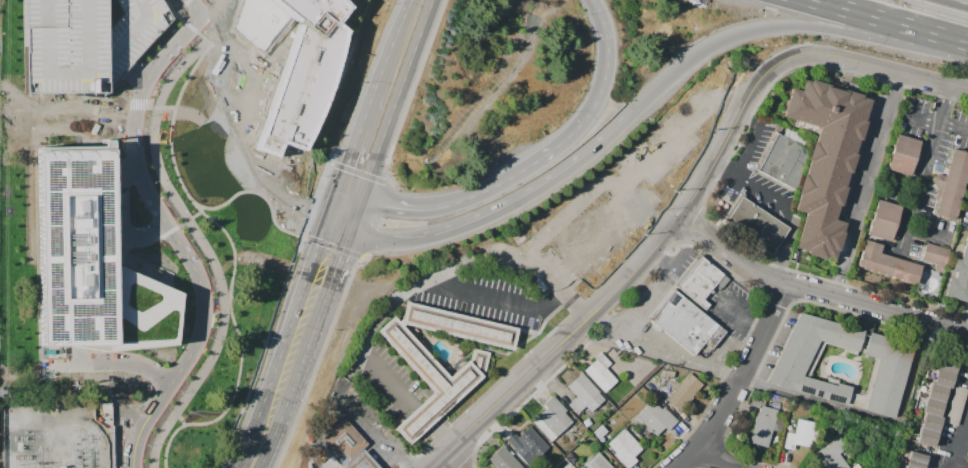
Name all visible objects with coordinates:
road: (196, 3)
road: (885, 20)
road: (783, 27)
road: (964, 41)
building: (86, 42)
parking lot: (86, 42)
road: (398, 43)
road: (421, 47)
building: (303, 74)
road: (915, 77)
traffic signals: (635, 117)
road: (935, 122)
road: (364, 141)
road: (385, 148)
road: (881, 150)
building: (903, 154)
road: (540, 157)
building: (825, 160)
building: (785, 161)
road: (922, 169)
building: (288, 173)
building: (951, 185)
traffic signals: (345, 194)
road: (356, 198)
traffic signals: (368, 202)
road: (779, 206)
road: (506, 209)
road: (338, 212)
road: (361, 220)
building: (883, 220)
building: (757, 227)
traffic signals: (332, 231)
road: (175, 233)
road: (343, 235)
traffic signals: (354, 239)
building: (592, 239)
building: (74, 248)
road: (656, 249)
building: (936, 256)
building: (885, 263)
building: (959, 277)
building: (702, 283)
road: (337, 284)
road: (433, 288)
road: (819, 290)
building: (141, 312)
building: (458, 326)
building: (687, 326)
road: (284, 349)
building: (153, 353)
building: (812, 356)
building: (479, 360)
building: (601, 372)
building: (884, 374)
road: (302, 376)
road: (737, 378)
building: (427, 380)
building: (108, 384)
building: (622, 386)
building: (684, 392)
building: (583, 394)
building: (935, 402)
road: (867, 415)
building: (553, 416)
building: (656, 418)
building: (764, 426)
building: (801, 434)
power substation: (60, 437)
road: (959, 440)
road: (381, 441)
building: (528, 441)
building: (343, 443)
road: (274, 445)
building: (624, 448)
building: (832, 453)
road: (380, 454)
road: (725, 458)
building: (502, 459)
building: (915, 460)
building: (360, 462)
gas station: (360, 462)
building: (596, 462)
road: (368, 464)
road: (444, 465)
road: (317, 466)
road: (960, 466)
road: (233, 467)

